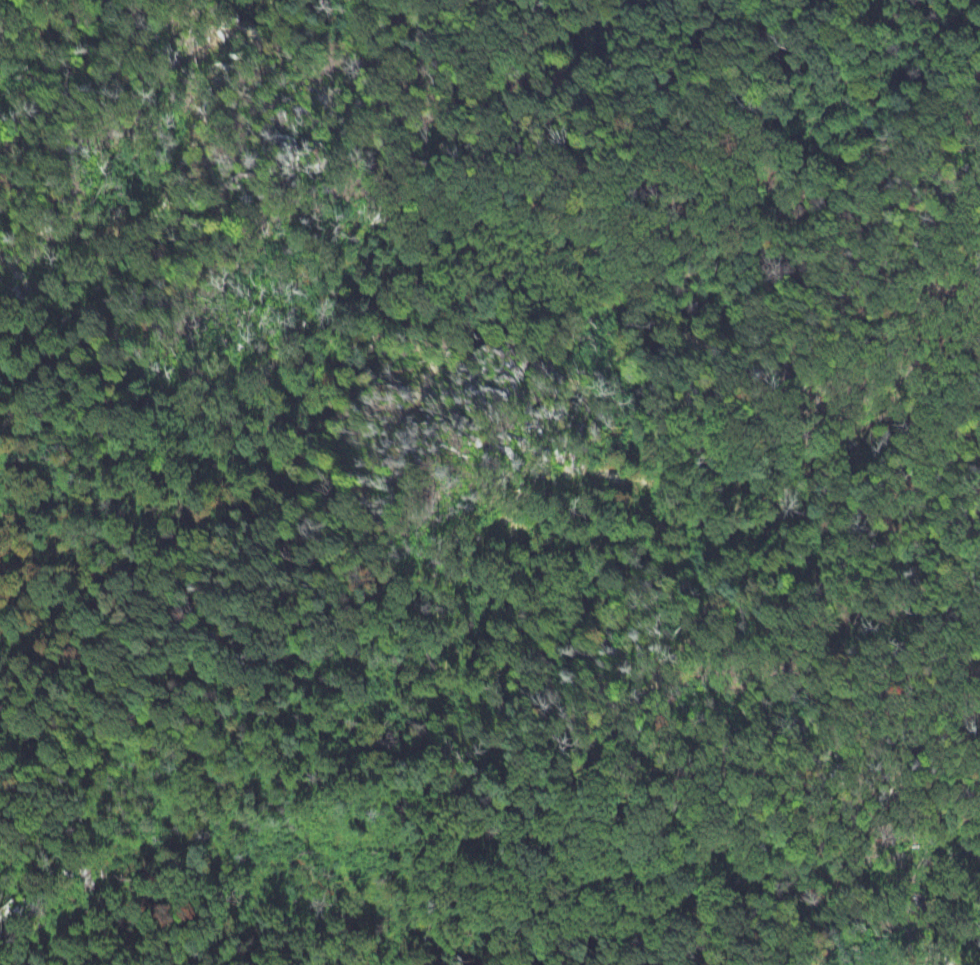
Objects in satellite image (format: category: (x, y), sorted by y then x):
park: (953, 533)
park: (433, 739)
road: (213, 772)

